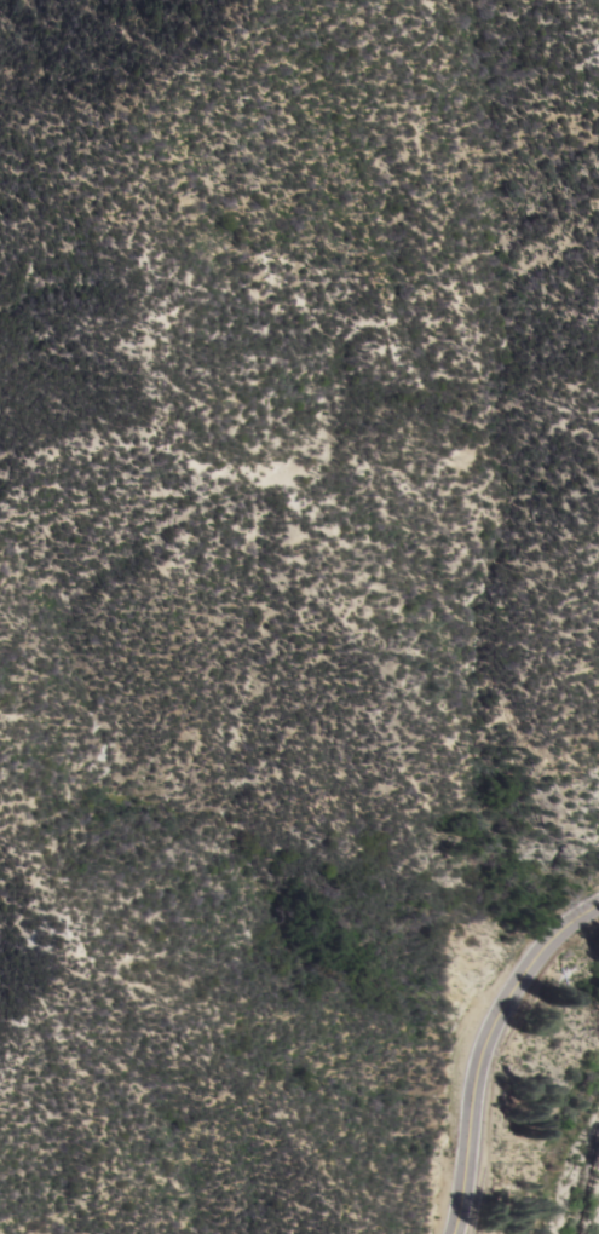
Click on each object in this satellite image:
road: (489, 1057)

